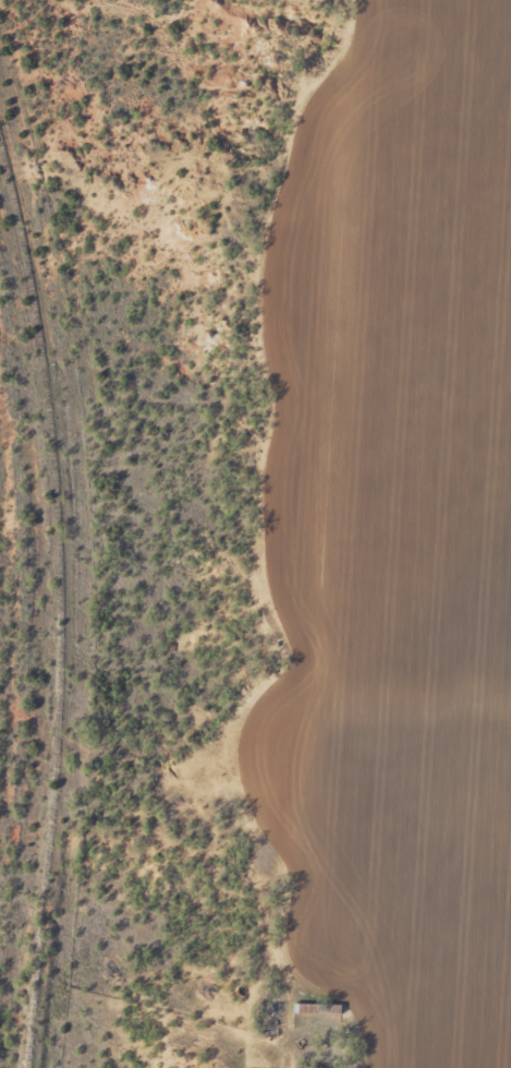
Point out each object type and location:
railway: (53, 597)
building: (313, 1008)
road: (271, 1033)

